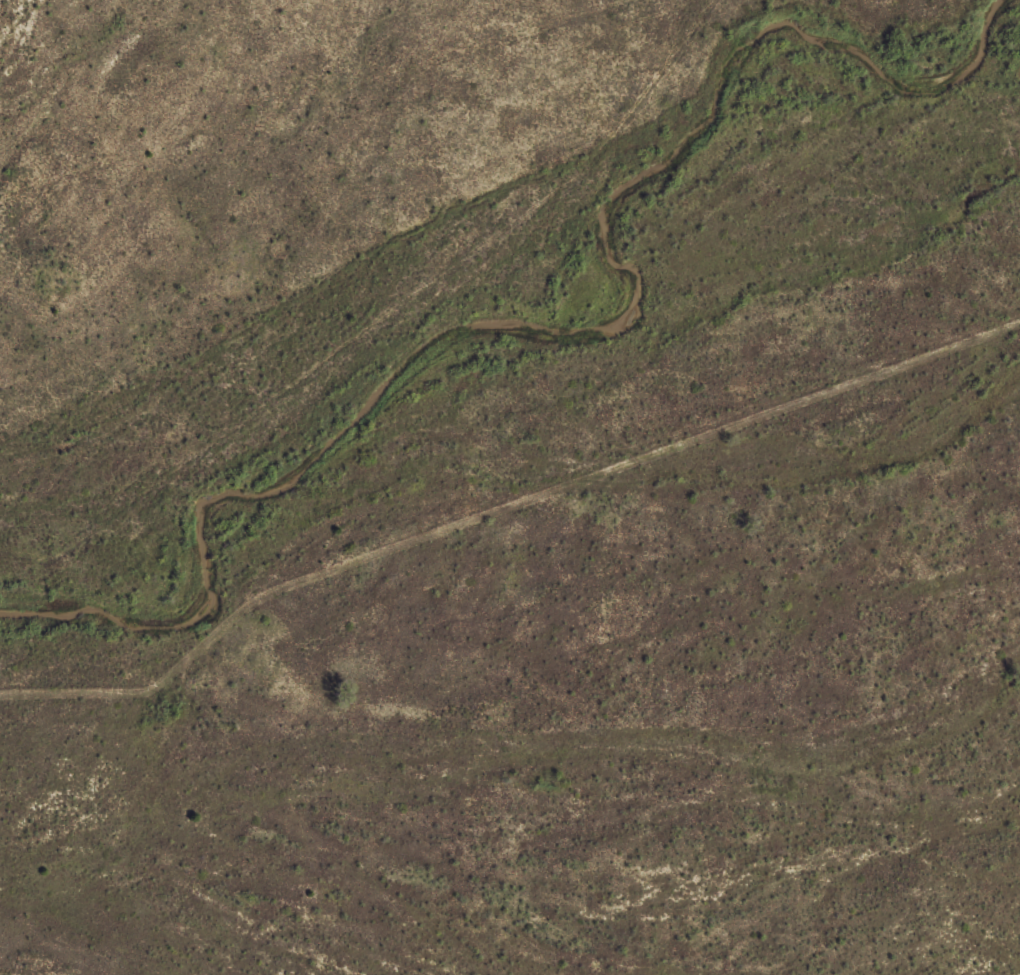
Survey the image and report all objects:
river: (560, 333)

